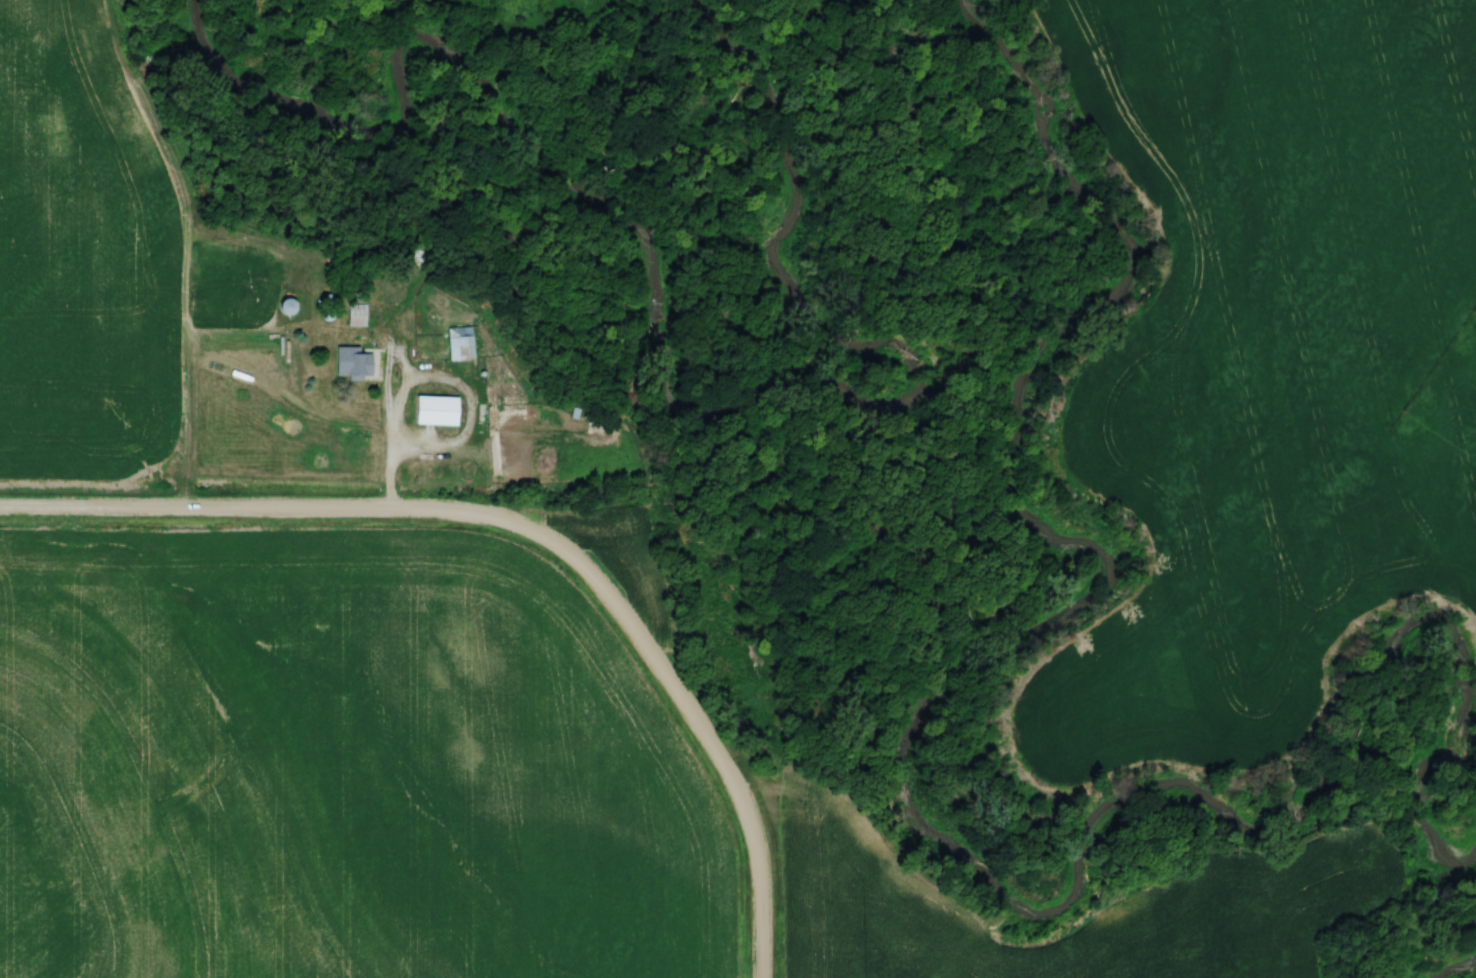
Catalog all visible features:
building: (284, 308)
building: (354, 316)
building: (459, 345)
building: (351, 364)
road: (422, 382)
building: (435, 412)
road: (390, 475)
road: (275, 509)
river: (1019, 512)
road: (675, 692)
road: (761, 925)
river: (1451, 969)

